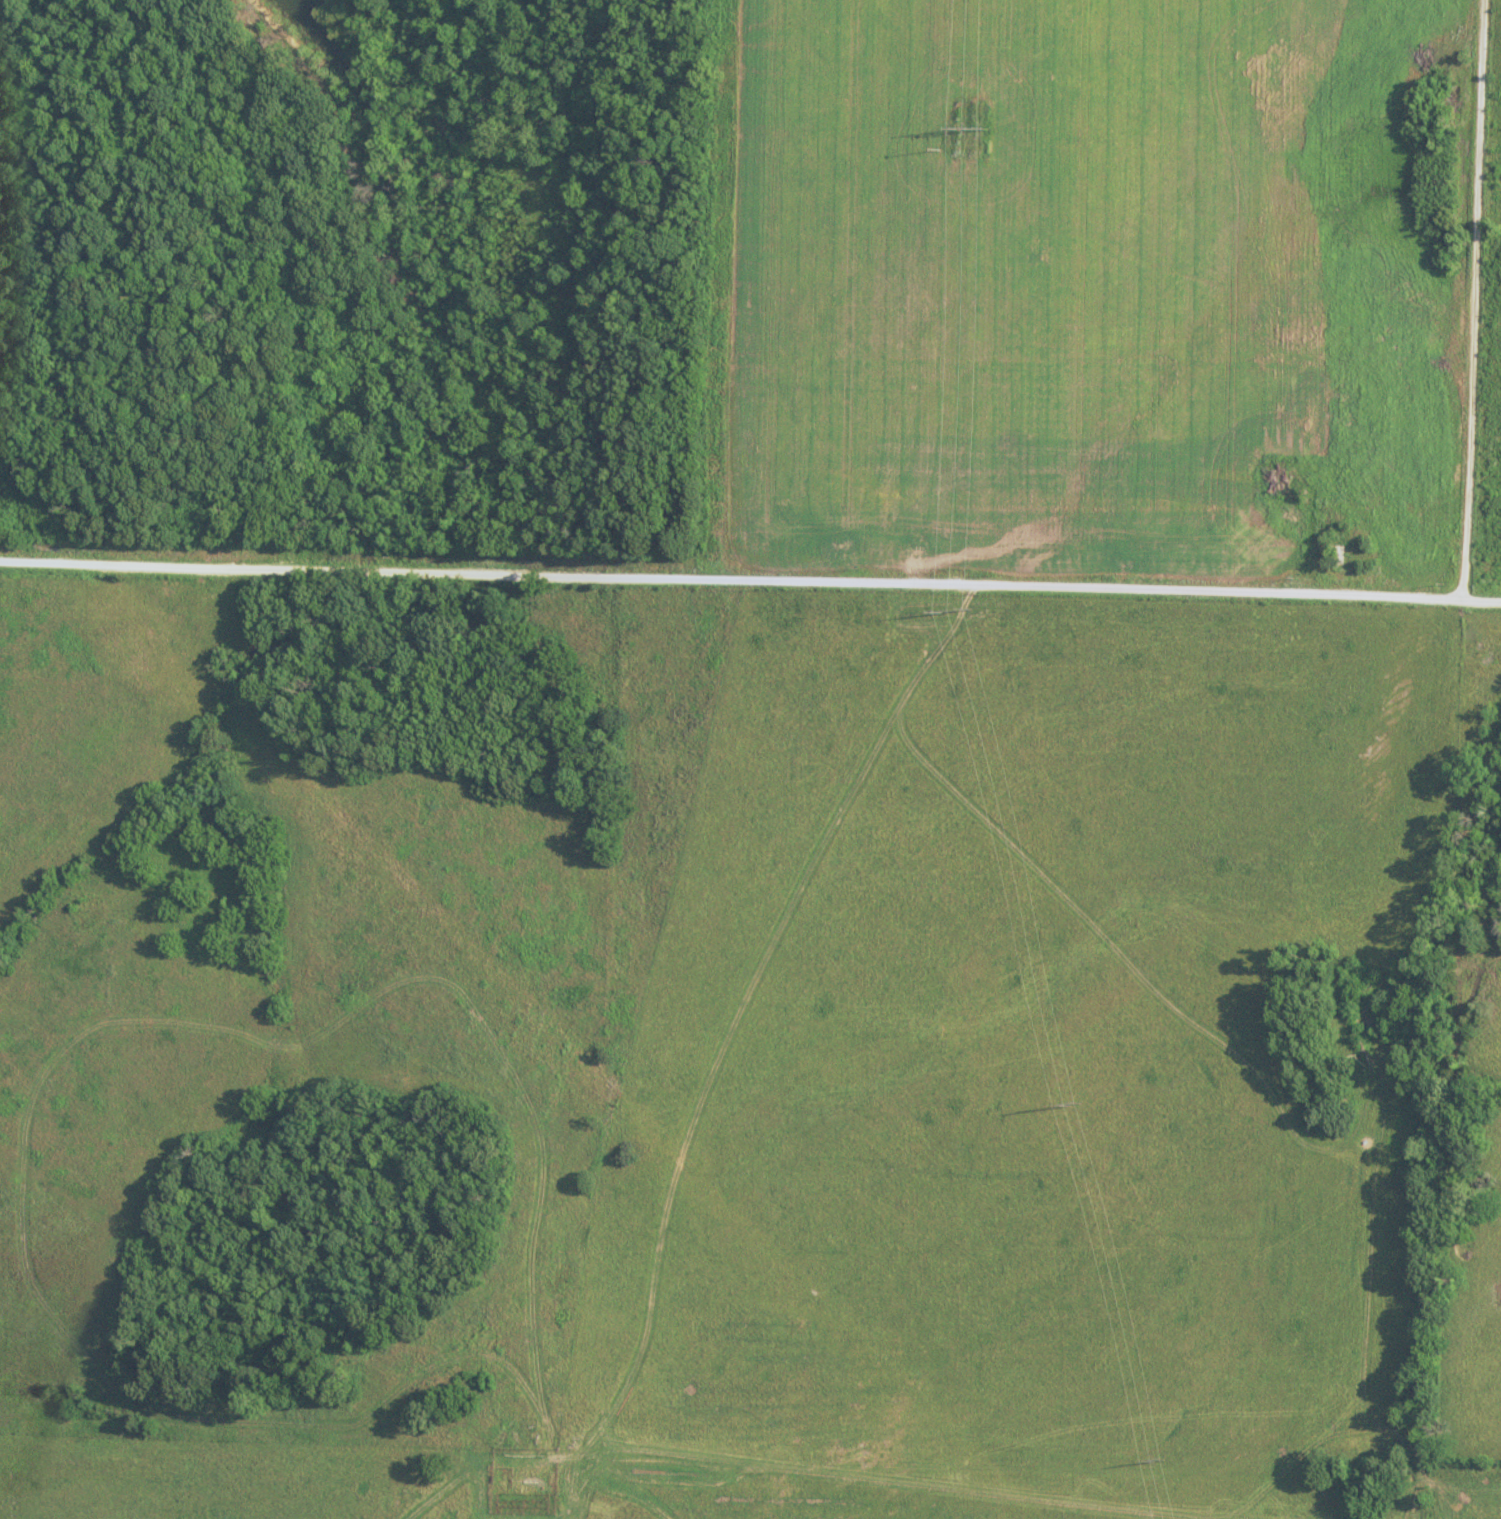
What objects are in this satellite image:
road: (1474, 298)
road: (750, 582)
road: (745, 988)

